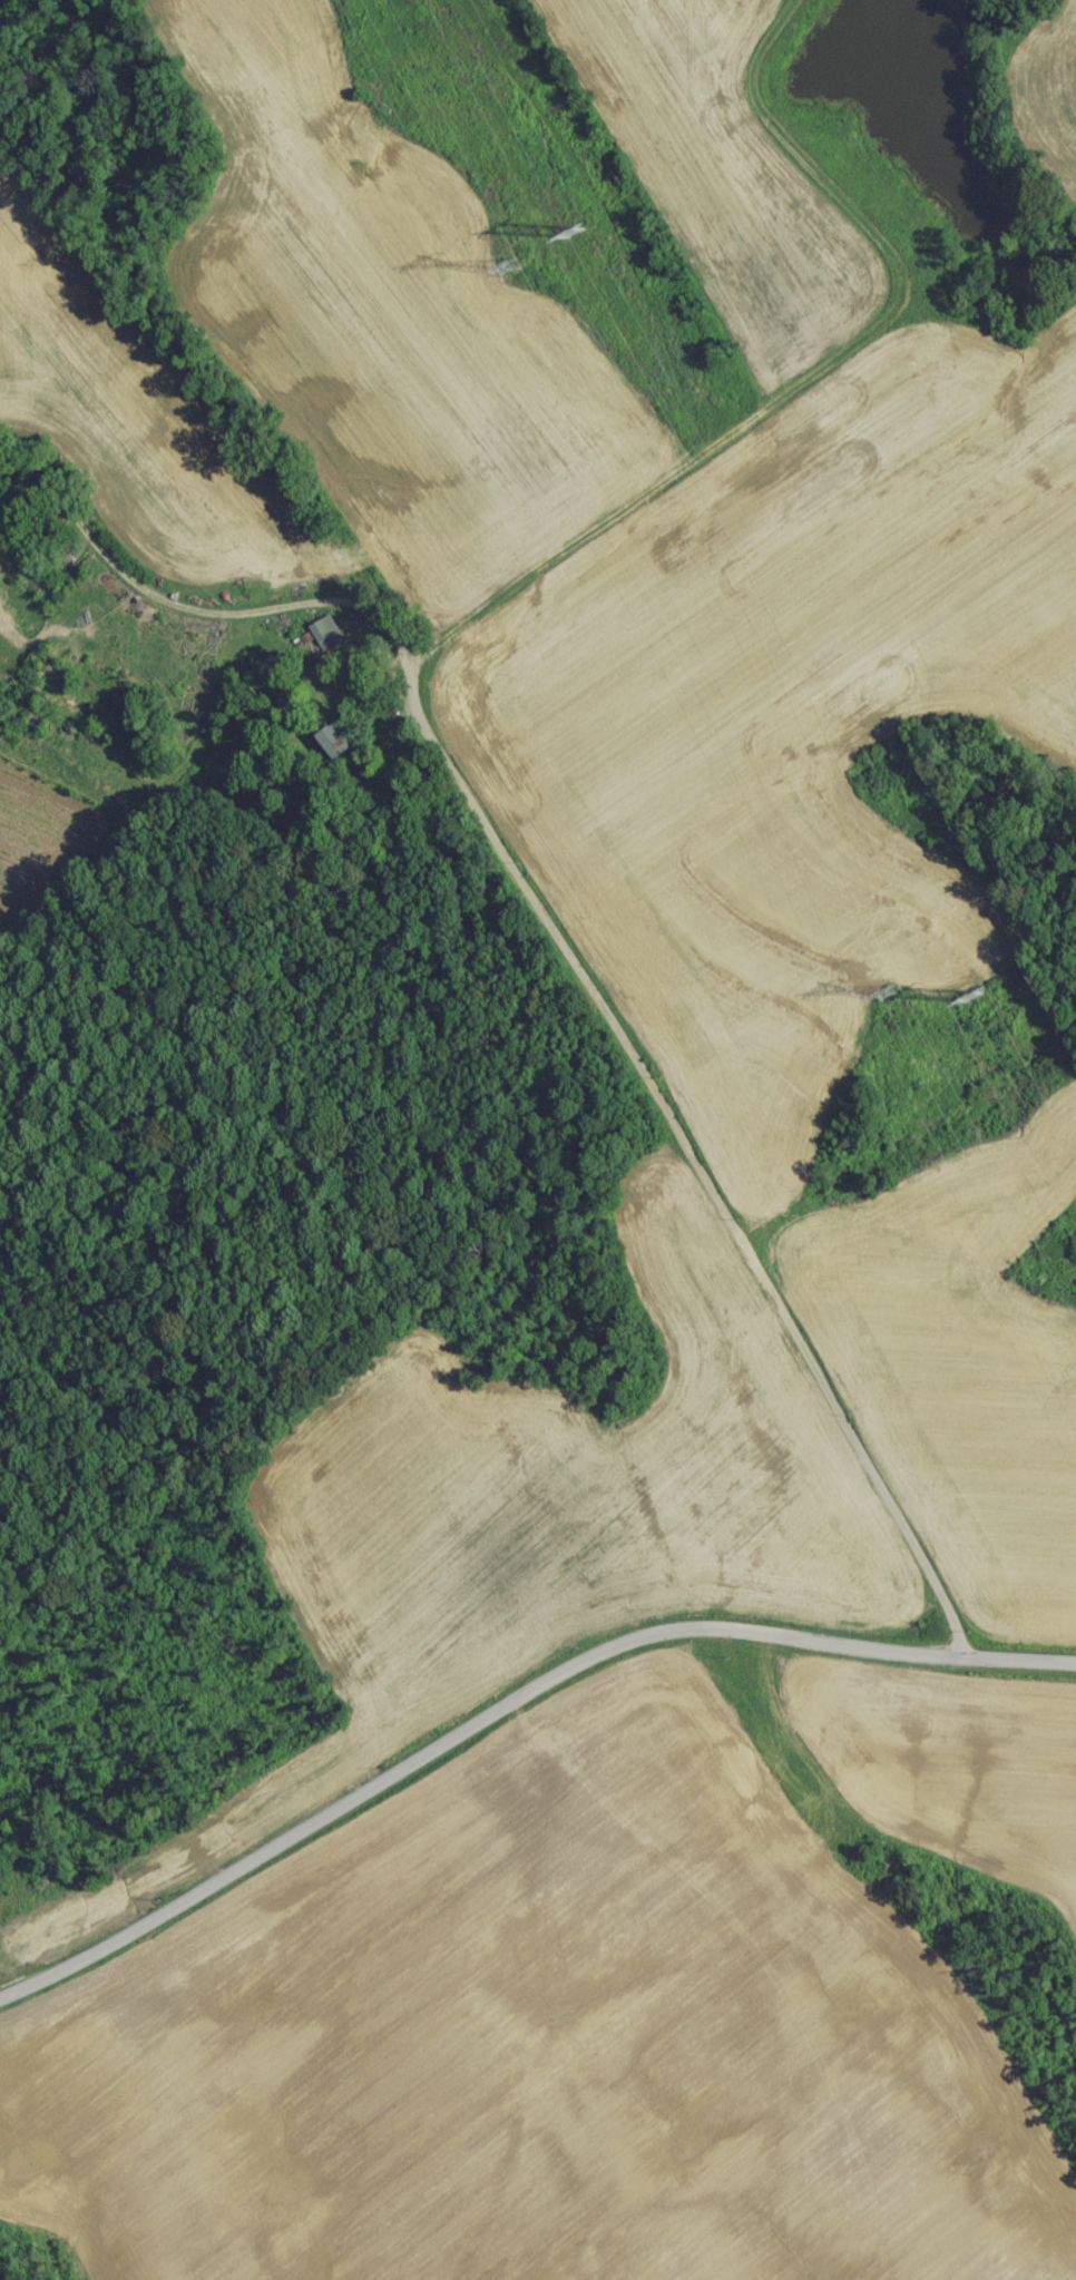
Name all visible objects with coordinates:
power tower: (580, 239)
power tower: (506, 275)
road: (573, 544)
power tower: (880, 997)
power tower: (971, 1006)
road: (666, 1163)
road: (510, 1690)

